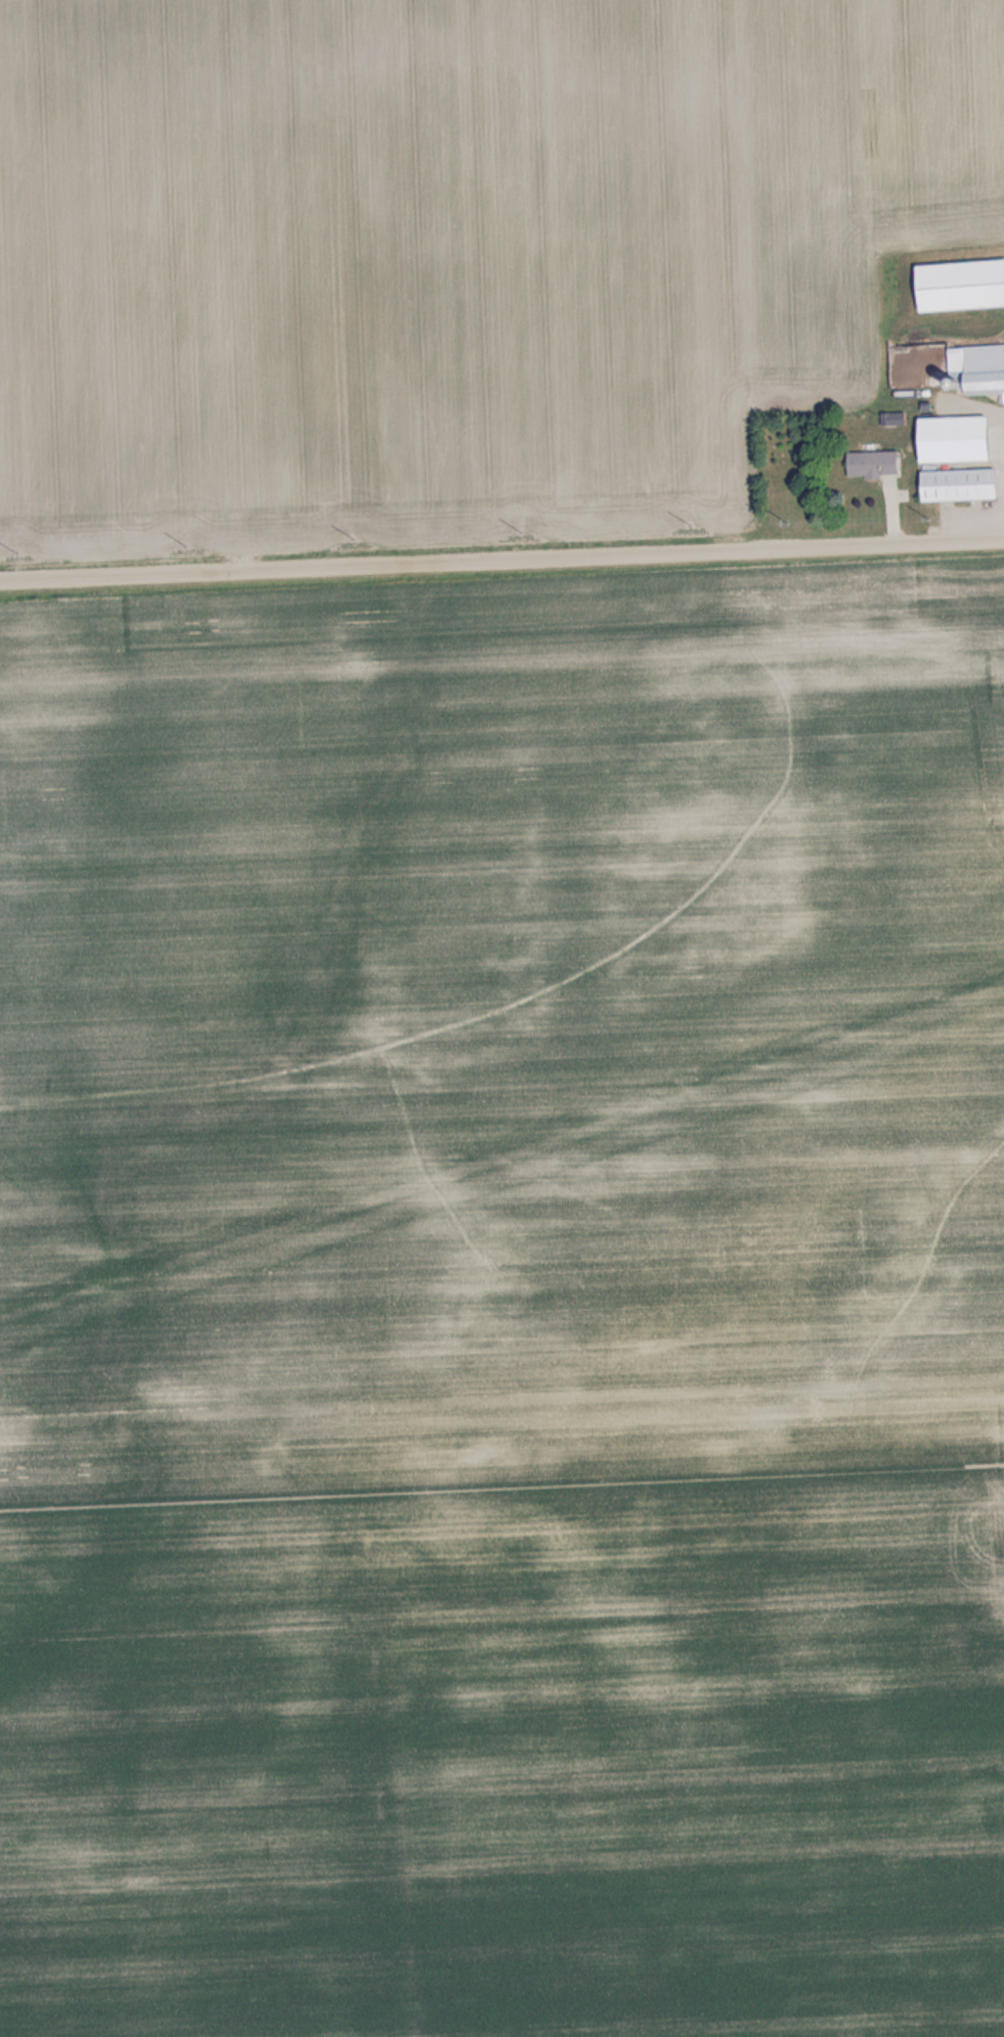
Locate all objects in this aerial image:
building: (990, 366)
building: (946, 439)
building: (867, 462)
building: (951, 485)
road: (502, 566)

